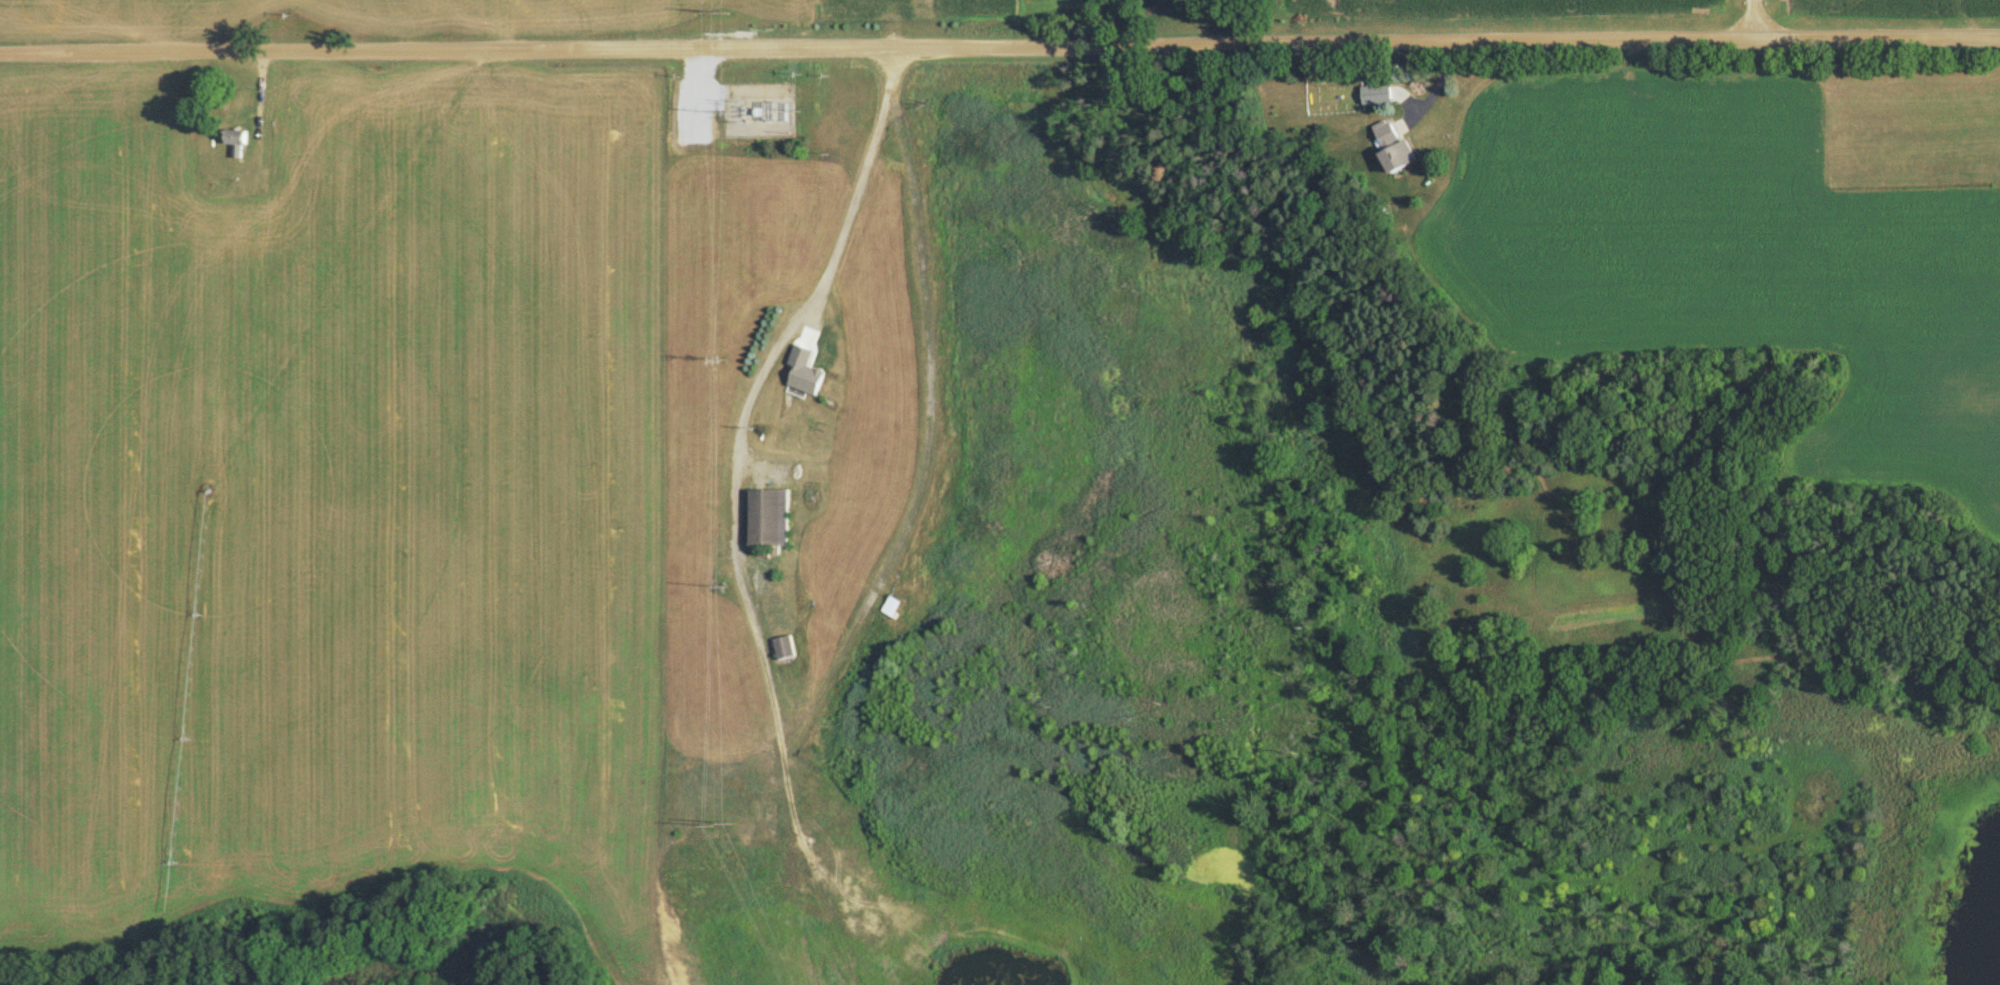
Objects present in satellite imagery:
road: (1753, 20)
road: (999, 46)
road: (704, 86)
road: (717, 93)
power substation: (762, 110)
power tower: (724, 111)
building: (234, 141)
building: (1392, 151)
building: (803, 377)
building: (767, 522)
building: (892, 611)
building: (783, 651)
road: (772, 702)

